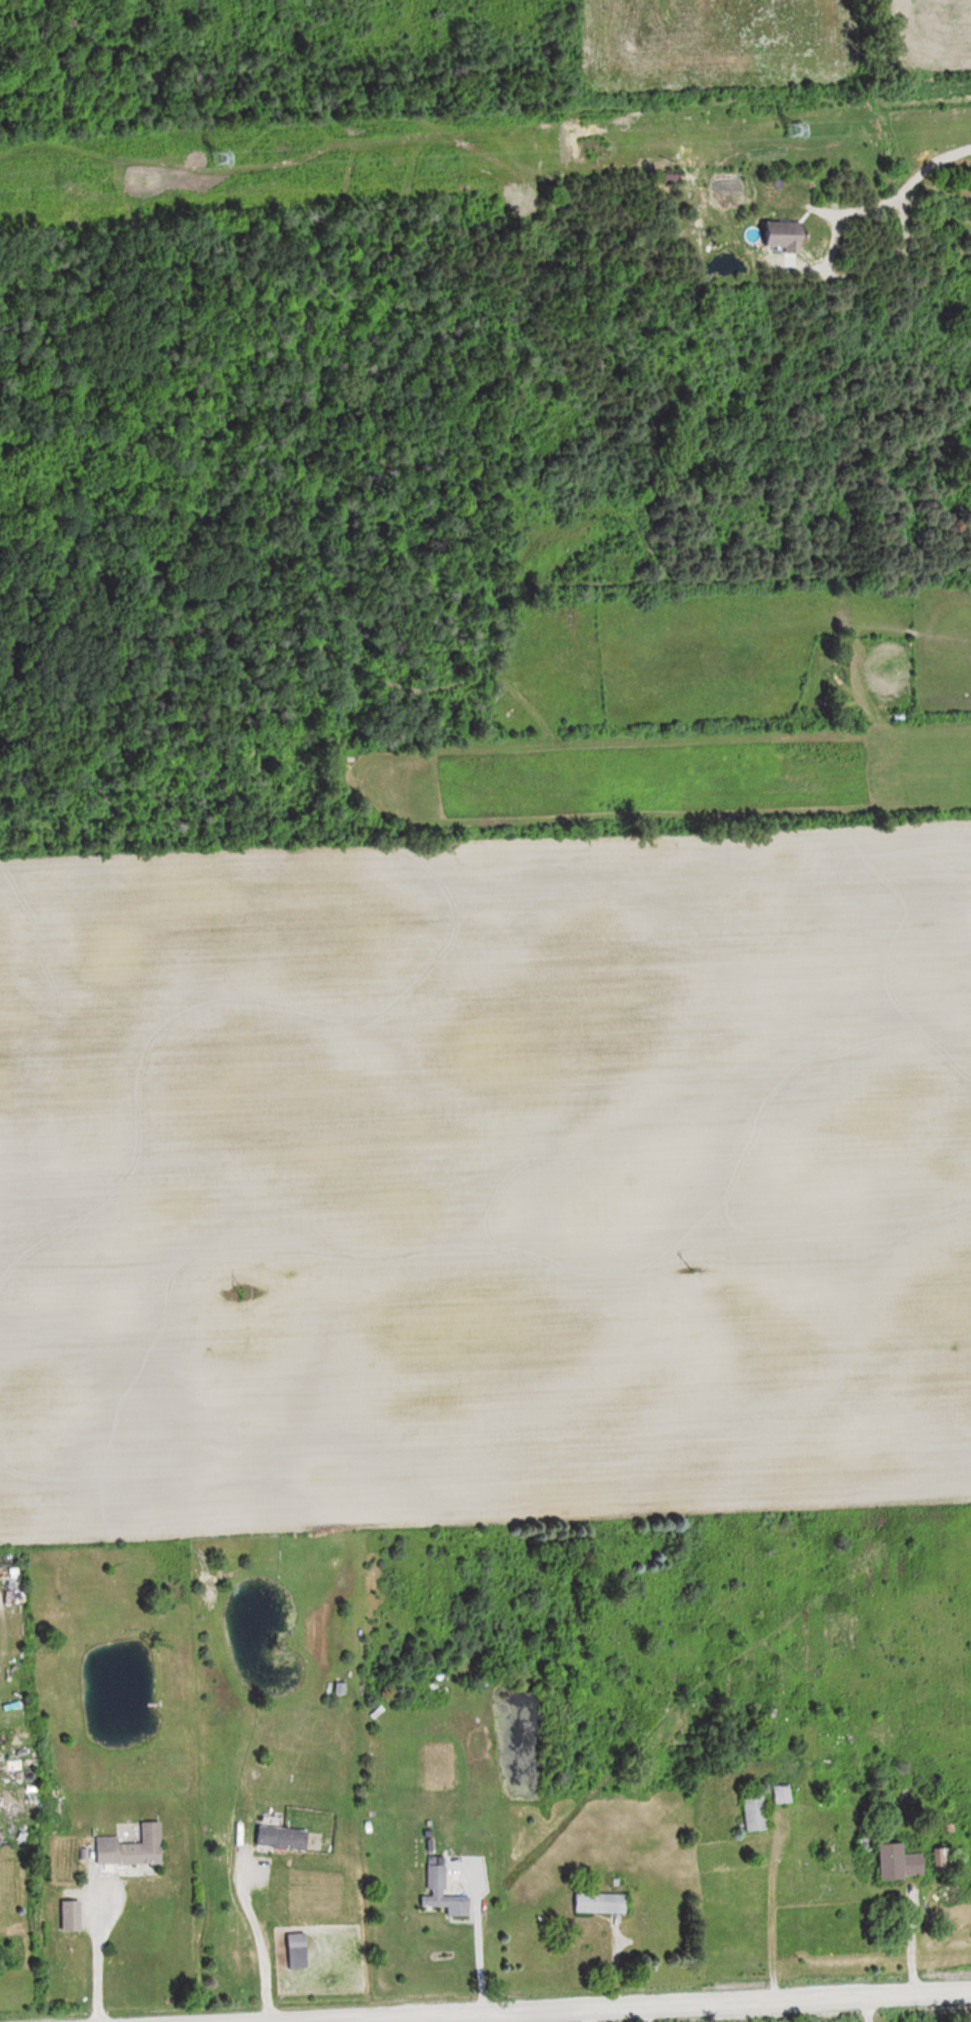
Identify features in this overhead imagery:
power tower: (798, 131)
power tower: (220, 160)
road: (923, 172)
building: (788, 235)
power tower: (692, 1273)
power tower: (245, 1294)
building: (756, 1811)
building: (284, 1837)
building: (133, 1848)
building: (945, 1860)
building: (903, 1863)
building: (441, 1887)
building: (601, 1902)
road: (251, 1937)
building: (298, 1942)
road: (913, 1944)
road: (473, 1948)
road: (95, 1957)
road: (689, 2009)
road: (861, 2012)
road: (633, 2017)
road: (585, 2018)

